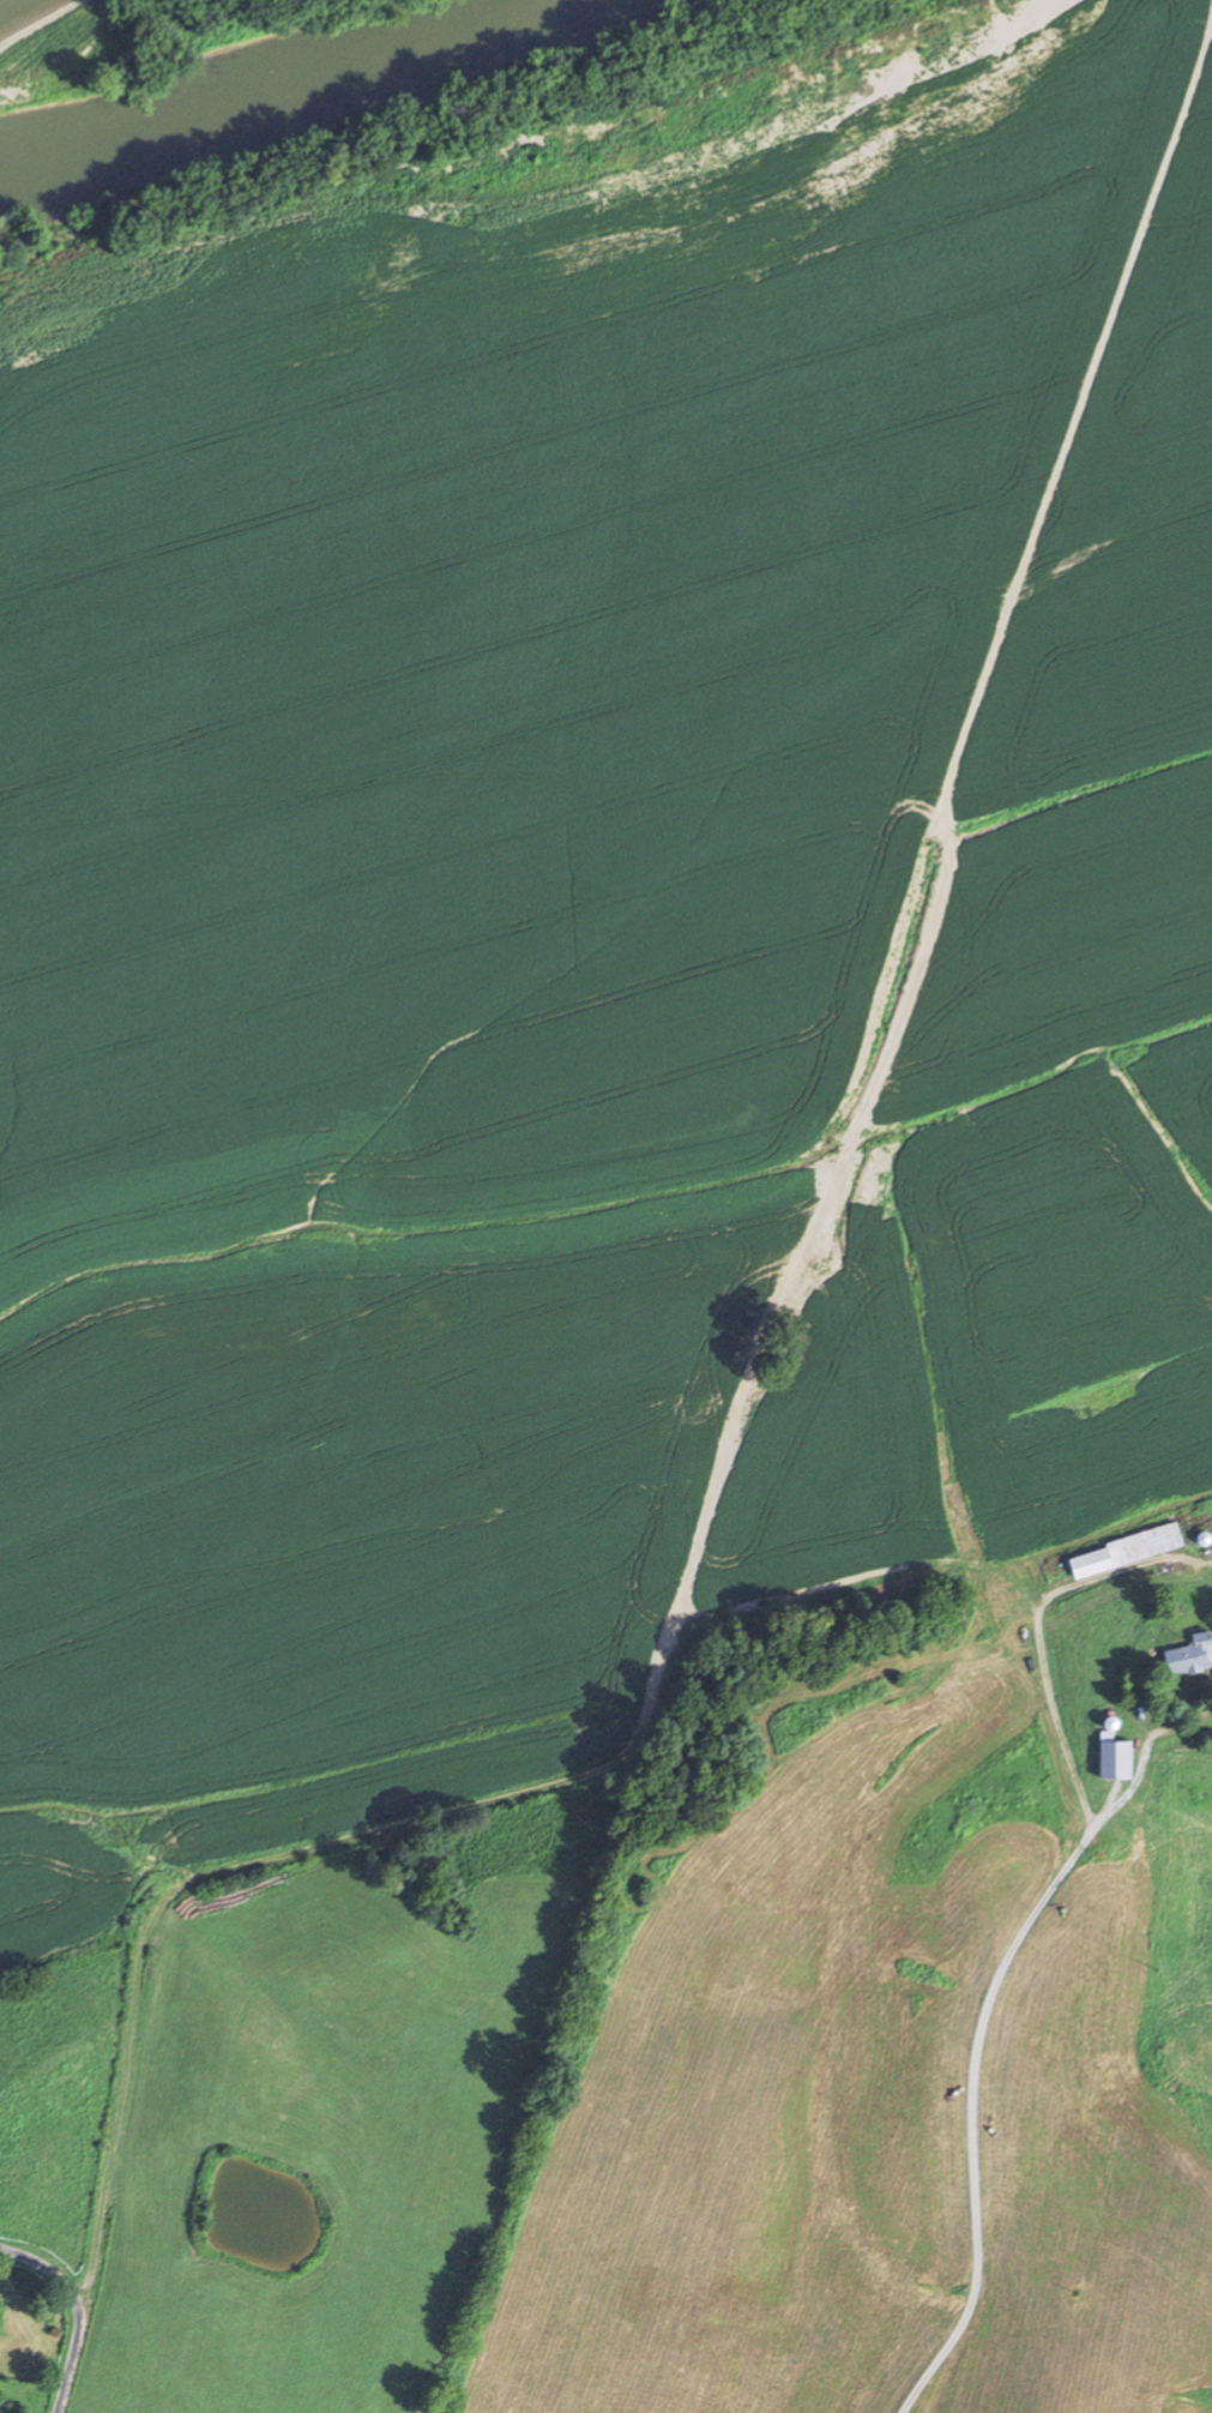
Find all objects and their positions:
road: (975, 2123)
road: (77, 2311)

